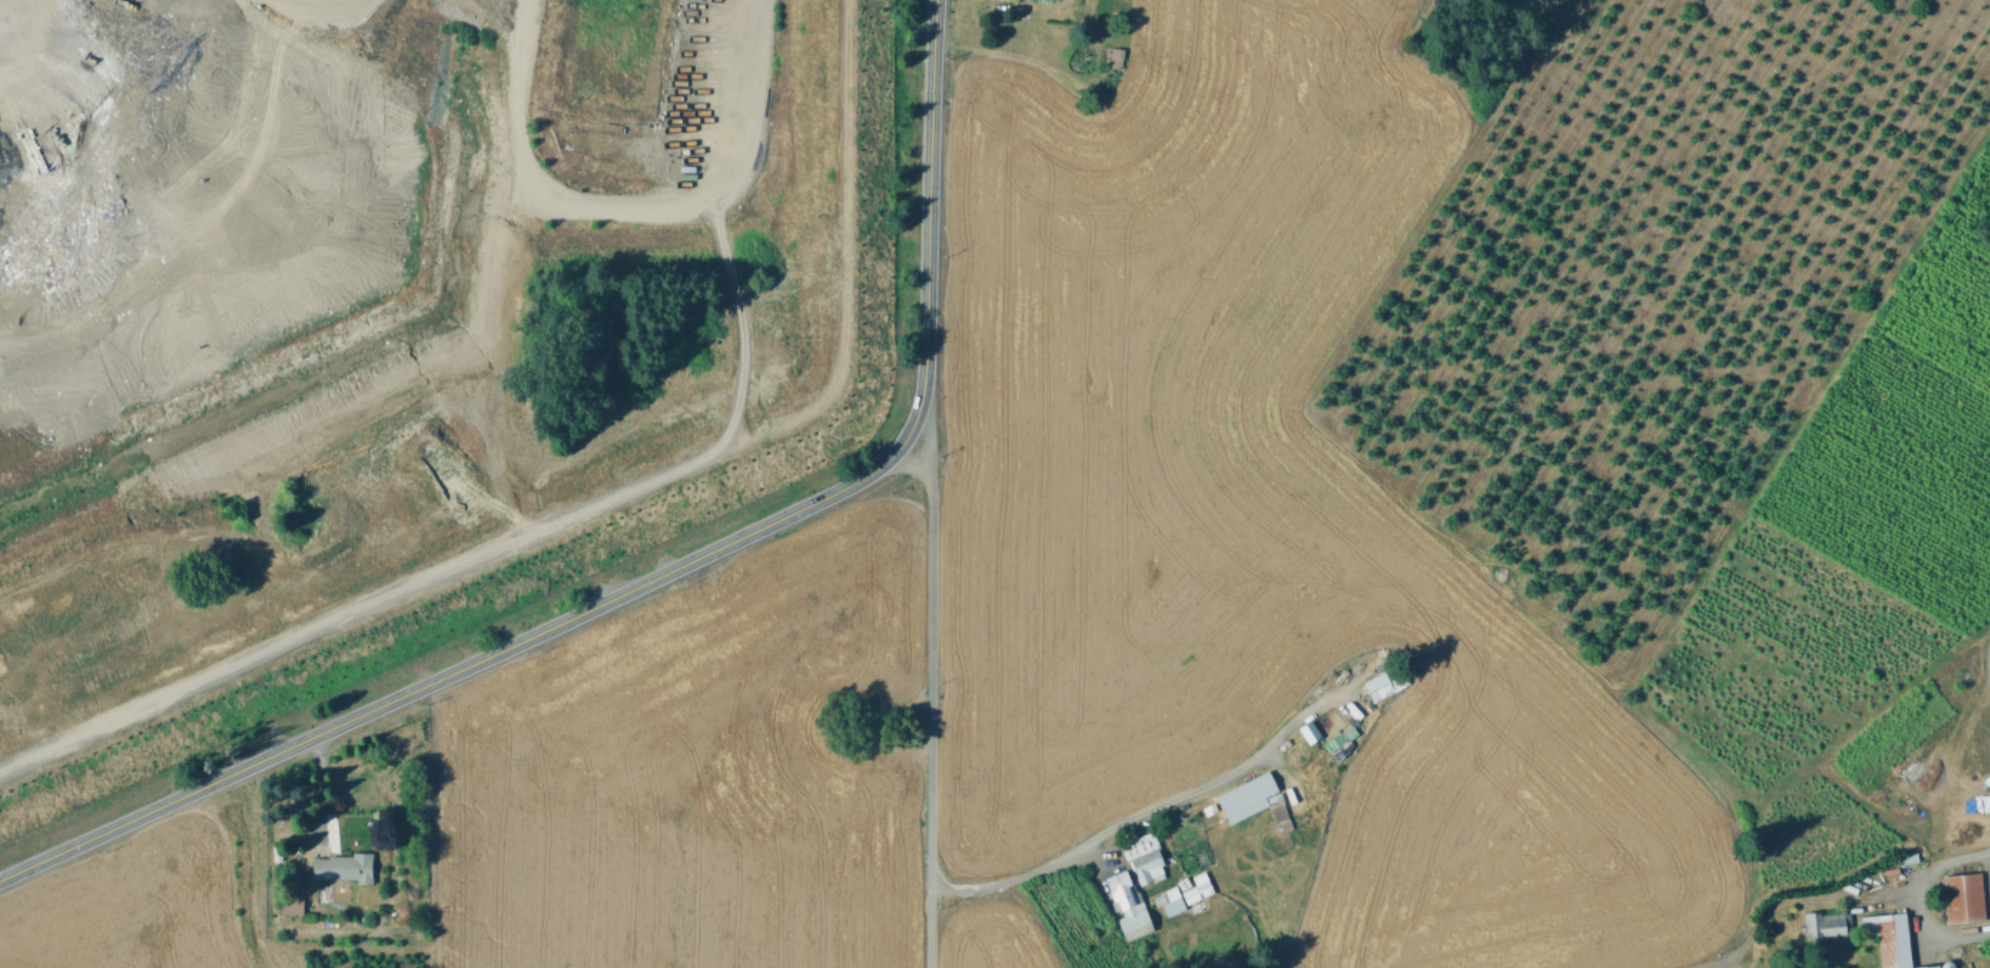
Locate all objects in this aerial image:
building: (1052, 0)
crop: (1542, 4)
road: (326, 5)
building: (1120, 56)
road: (511, 108)
crop: (1967, 221)
landfill: (401, 318)
crop: (1932, 343)
crop: (1163, 400)
road: (1810, 401)
road: (463, 410)
crop: (1889, 500)
road: (659, 576)
crop: (1782, 652)
road: (929, 687)
building: (1379, 688)
building: (1311, 732)
crop: (692, 773)
road: (1212, 783)
building: (1246, 796)
crop: (1508, 808)
crop: (1803, 831)
building: (1144, 857)
building: (344, 873)
road: (1023, 873)
building: (1184, 881)
building: (1196, 887)
building: (1171, 895)
road: (1832, 897)
building: (1159, 899)
building: (1963, 900)
crop: (130, 904)
building: (1131, 906)
building: (1822, 928)
building: (1867, 928)
crop: (993, 933)
road: (1936, 935)
building: (1893, 941)
building: (1946, 965)
silo: (1946, 965)
building: (1933, 967)

